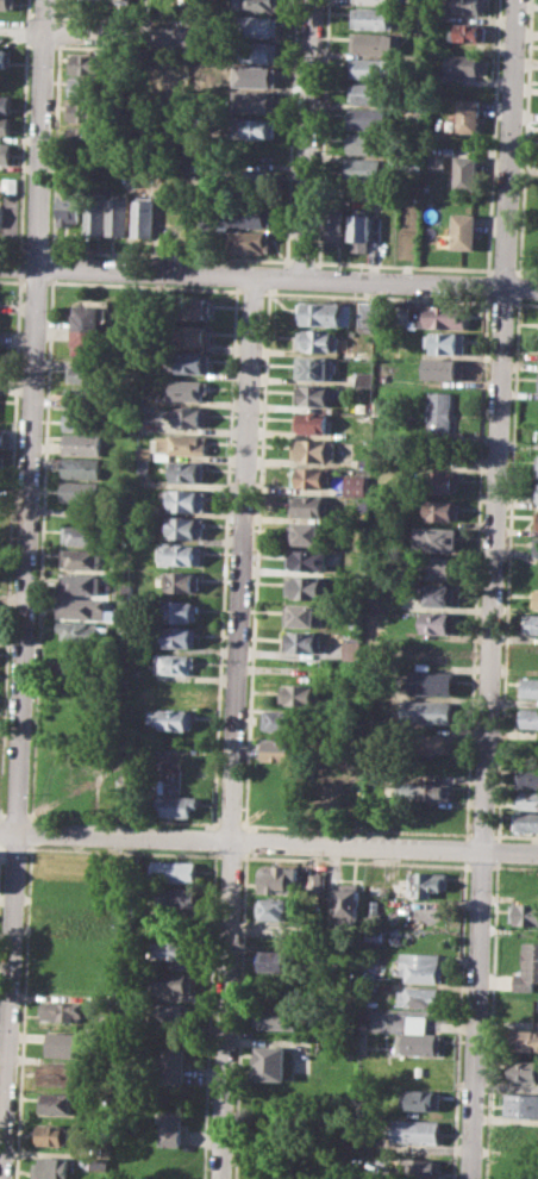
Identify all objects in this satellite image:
building: (125, 0)
building: (374, 1)
building: (6, 5)
building: (259, 5)
building: (467, 6)
building: (373, 17)
building: (259, 25)
building: (470, 31)
road: (118, 32)
building: (373, 43)
building: (258, 51)
building: (6, 57)
building: (94, 63)
building: (464, 63)
building: (374, 68)
building: (257, 76)
building: (176, 83)
building: (93, 88)
building: (370, 94)
building: (256, 101)
building: (5, 102)
building: (92, 112)
building: (468, 114)
building: (368, 118)
building: (5, 124)
building: (255, 129)
building: (90, 136)
road: (307, 138)
building: (367, 143)
building: (5, 151)
building: (438, 162)
building: (127, 163)
building: (411, 166)
building: (363, 167)
building: (467, 171)
building: (251, 179)
building: (12, 186)
building: (71, 206)
building: (120, 213)
building: (96, 214)
building: (245, 214)
building: (1, 216)
building: (145, 216)
building: (336, 227)
building: (361, 230)
building: (464, 230)
building: (249, 241)
road: (127, 269)
road: (280, 276)
road: (419, 282)
building: (193, 307)
building: (325, 313)
building: (367, 314)
building: (442, 316)
building: (85, 327)
building: (193, 333)
building: (318, 341)
building: (445, 342)
building: (189, 362)
building: (315, 367)
building: (444, 368)
building: (83, 373)
building: (364, 378)
building: (189, 389)
building: (313, 394)
building: (85, 397)
building: (439, 410)
building: (189, 417)
building: (85, 420)
building: (312, 422)
building: (2, 437)
building: (83, 443)
building: (183, 443)
building: (314, 449)
building: (145, 453)
building: (363, 461)
building: (82, 467)
building: (144, 467)
building: (537, 467)
building: (188, 472)
building: (311, 476)
building: (443, 482)
building: (356, 485)
building: (537, 489)
building: (81, 491)
building: (187, 499)
building: (312, 505)
building: (443, 510)
building: (537, 520)
building: (187, 526)
building: (308, 532)
building: (82, 535)
building: (440, 538)
building: (536, 547)
building: (181, 553)
building: (82, 557)
building: (308, 560)
building: (438, 567)
building: (183, 580)
building: (81, 582)
building: (307, 587)
road: (492, 588)
road: (25, 589)
building: (438, 594)
building: (534, 598)
building: (83, 607)
building: (181, 610)
building: (305, 615)
building: (439, 623)
building: (530, 623)
building: (83, 630)
building: (182, 636)
building: (305, 641)
building: (351, 650)
building: (176, 662)
building: (81, 670)
building: (433, 682)
building: (528, 687)
building: (302, 694)
building: (427, 711)
building: (528, 717)
building: (176, 718)
building: (284, 719)
road: (236, 726)
building: (433, 743)
building: (282, 749)
building: (527, 779)
building: (425, 790)
building: (527, 799)
building: (177, 804)
building: (526, 822)
road: (269, 841)
building: (174, 871)
building: (281, 878)
building: (315, 881)
building: (428, 881)
building: (176, 897)
road: (7, 898)
building: (350, 902)
building: (277, 907)
building: (524, 912)
building: (171, 949)
building: (273, 960)
building: (423, 966)
building: (527, 967)
building: (173, 981)
building: (421, 996)
building: (63, 1011)
building: (170, 1011)
building: (275, 1017)
building: (421, 1037)
building: (525, 1038)
building: (73, 1044)
building: (270, 1062)
building: (173, 1066)
building: (524, 1069)
building: (57, 1073)
building: (423, 1099)
building: (56, 1103)
building: (521, 1104)
building: (170, 1129)
building: (417, 1130)
building: (54, 1135)
building: (99, 1164)
building: (51, 1167)
building: (423, 1168)

